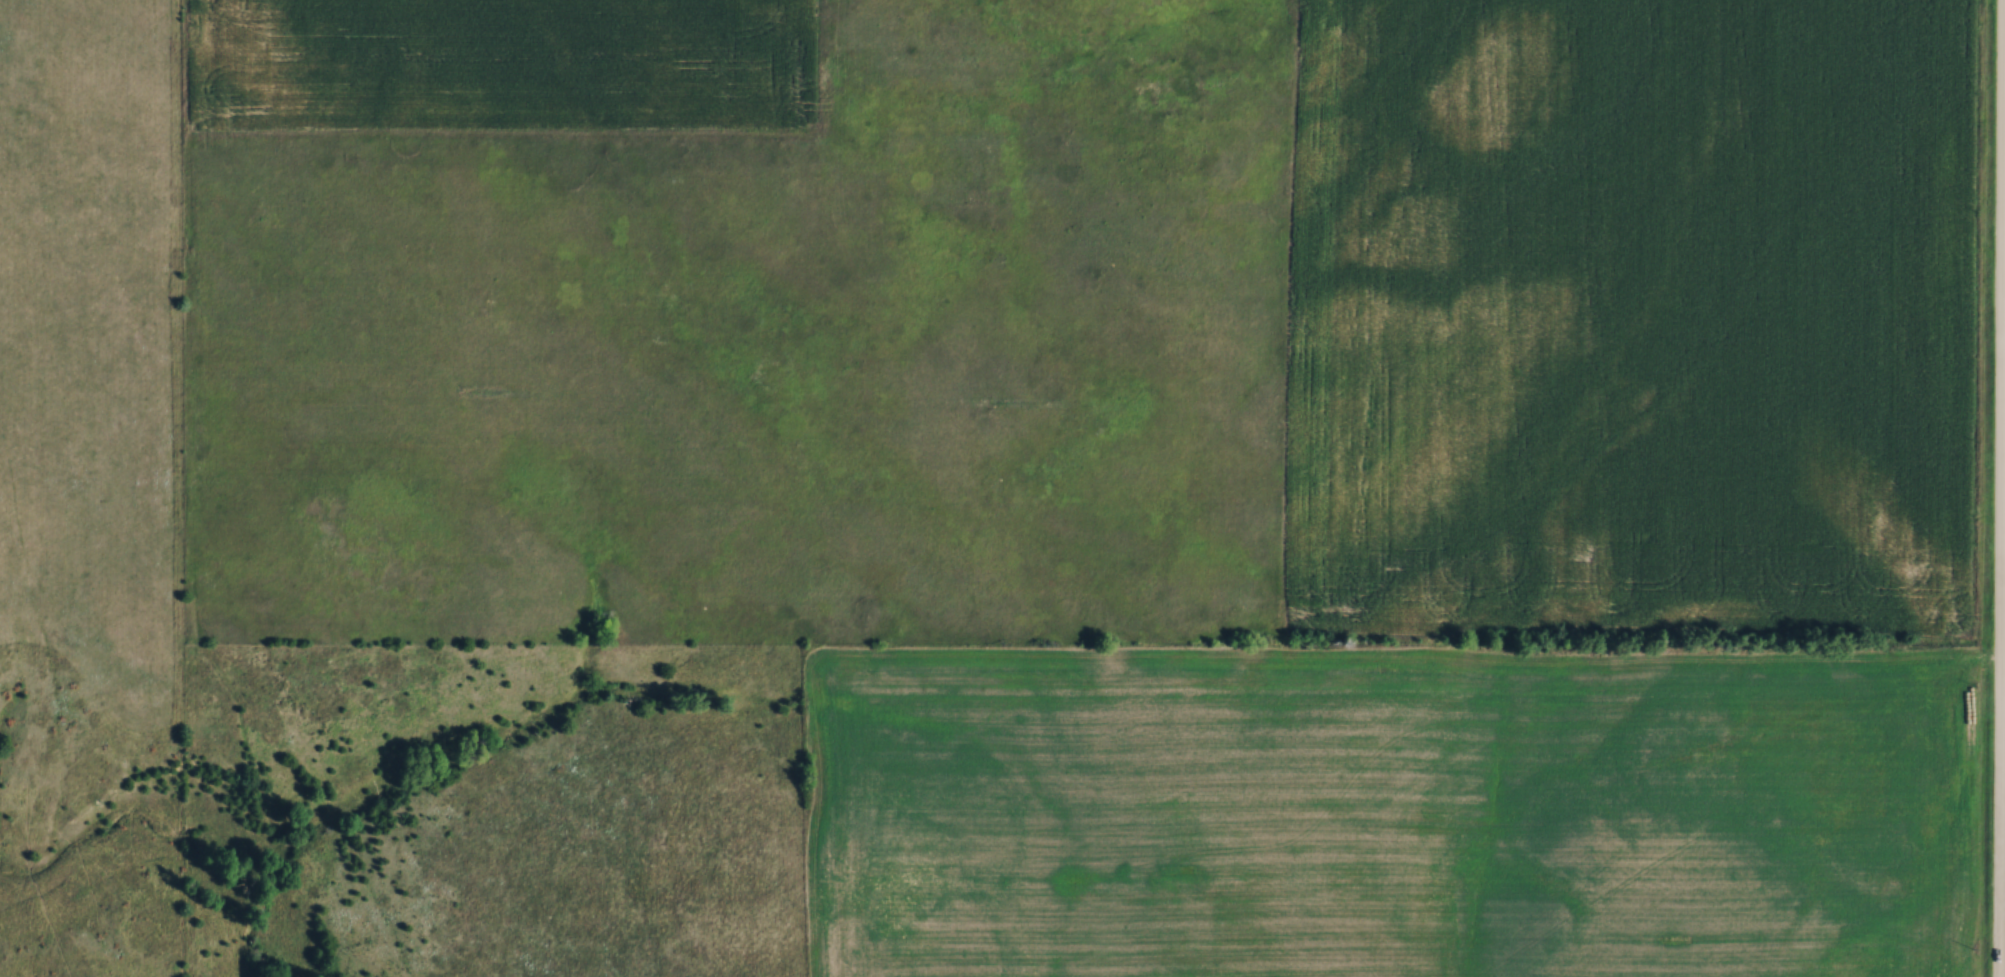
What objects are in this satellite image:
road: (2002, 488)

